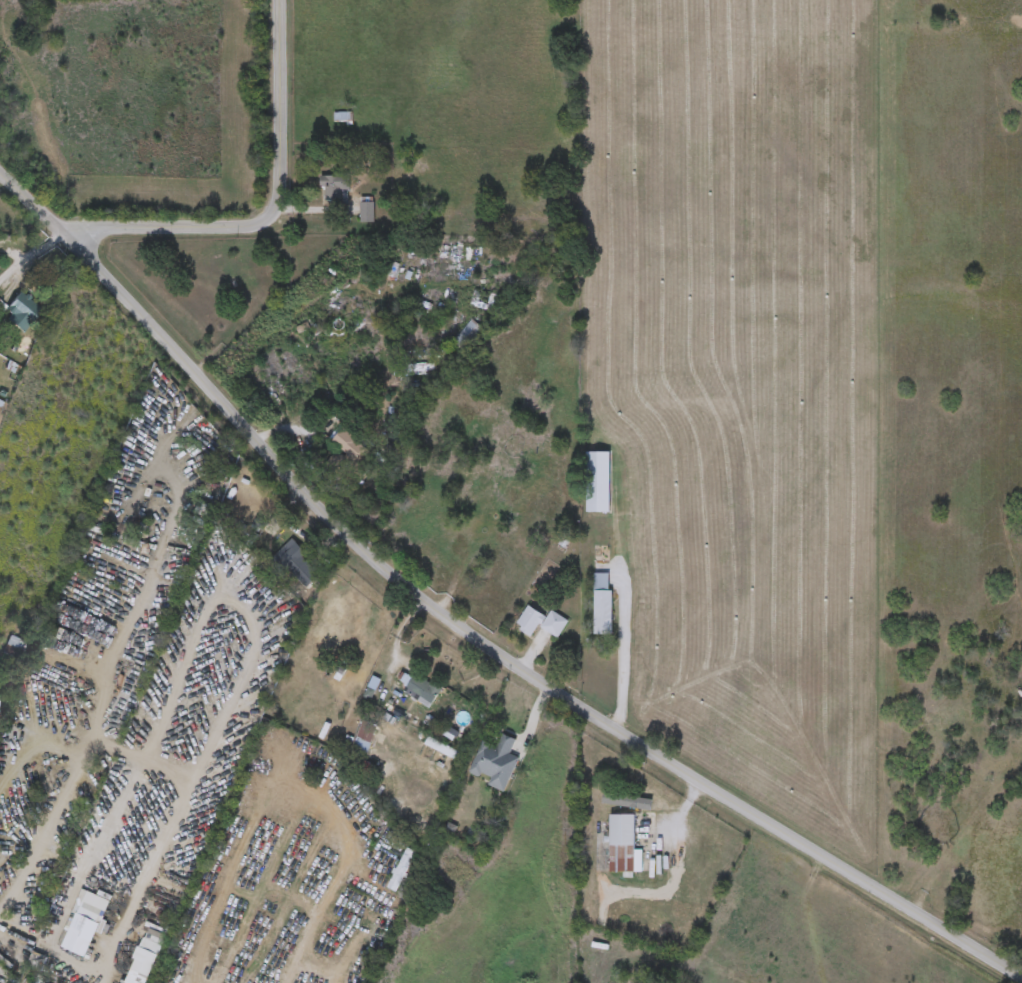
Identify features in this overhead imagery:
building: (344, 118)
building: (340, 189)
building: (11, 222)
road: (235, 224)
building: (22, 312)
building: (353, 456)
building: (598, 483)
building: (296, 564)
building: (603, 604)
building: (541, 622)
road: (466, 628)
road: (623, 651)
building: (13, 652)
building: (422, 690)
road: (157, 757)
building: (496, 762)
building: (626, 807)
building: (623, 841)
building: (401, 869)
building: (82, 929)
building: (142, 962)

